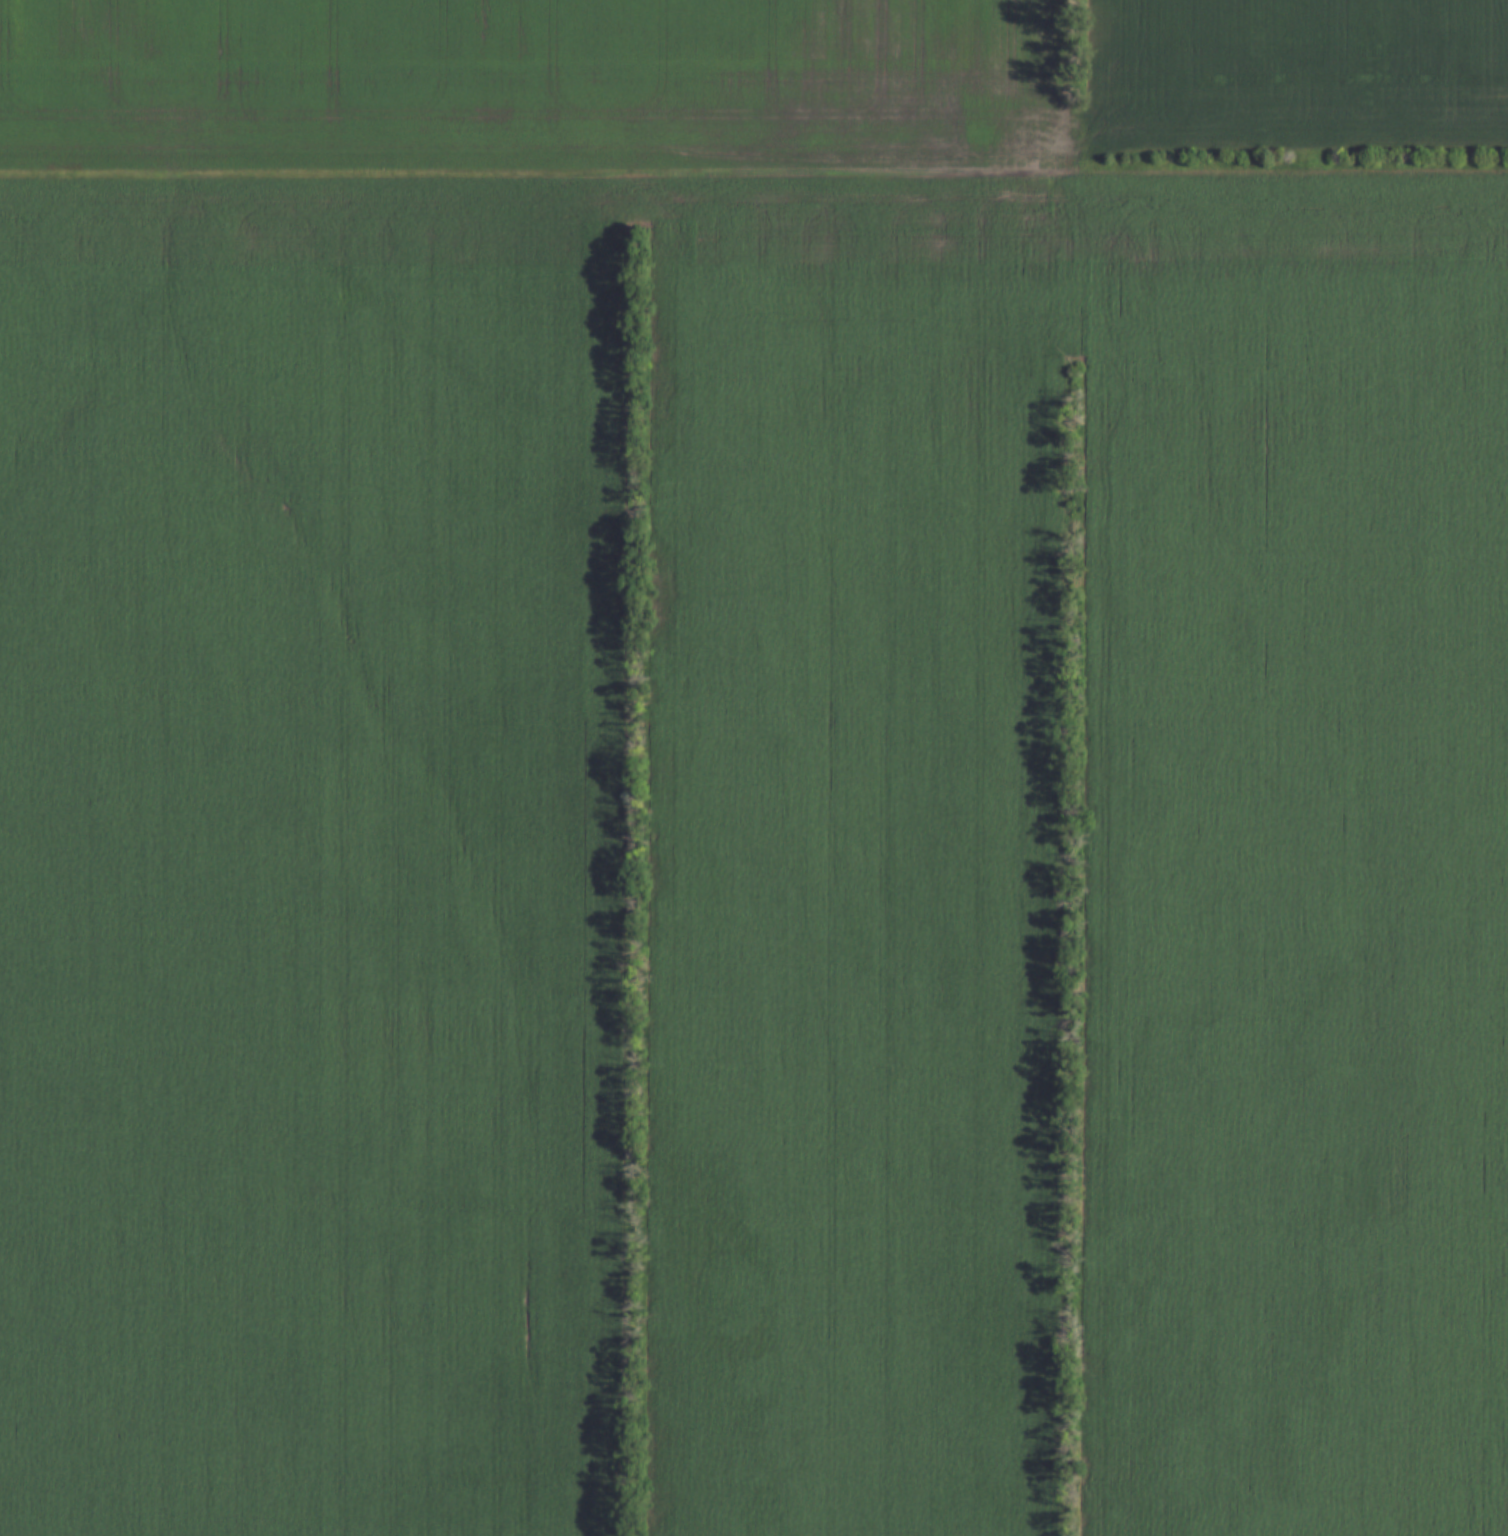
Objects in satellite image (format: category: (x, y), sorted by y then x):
road: (754, 176)

